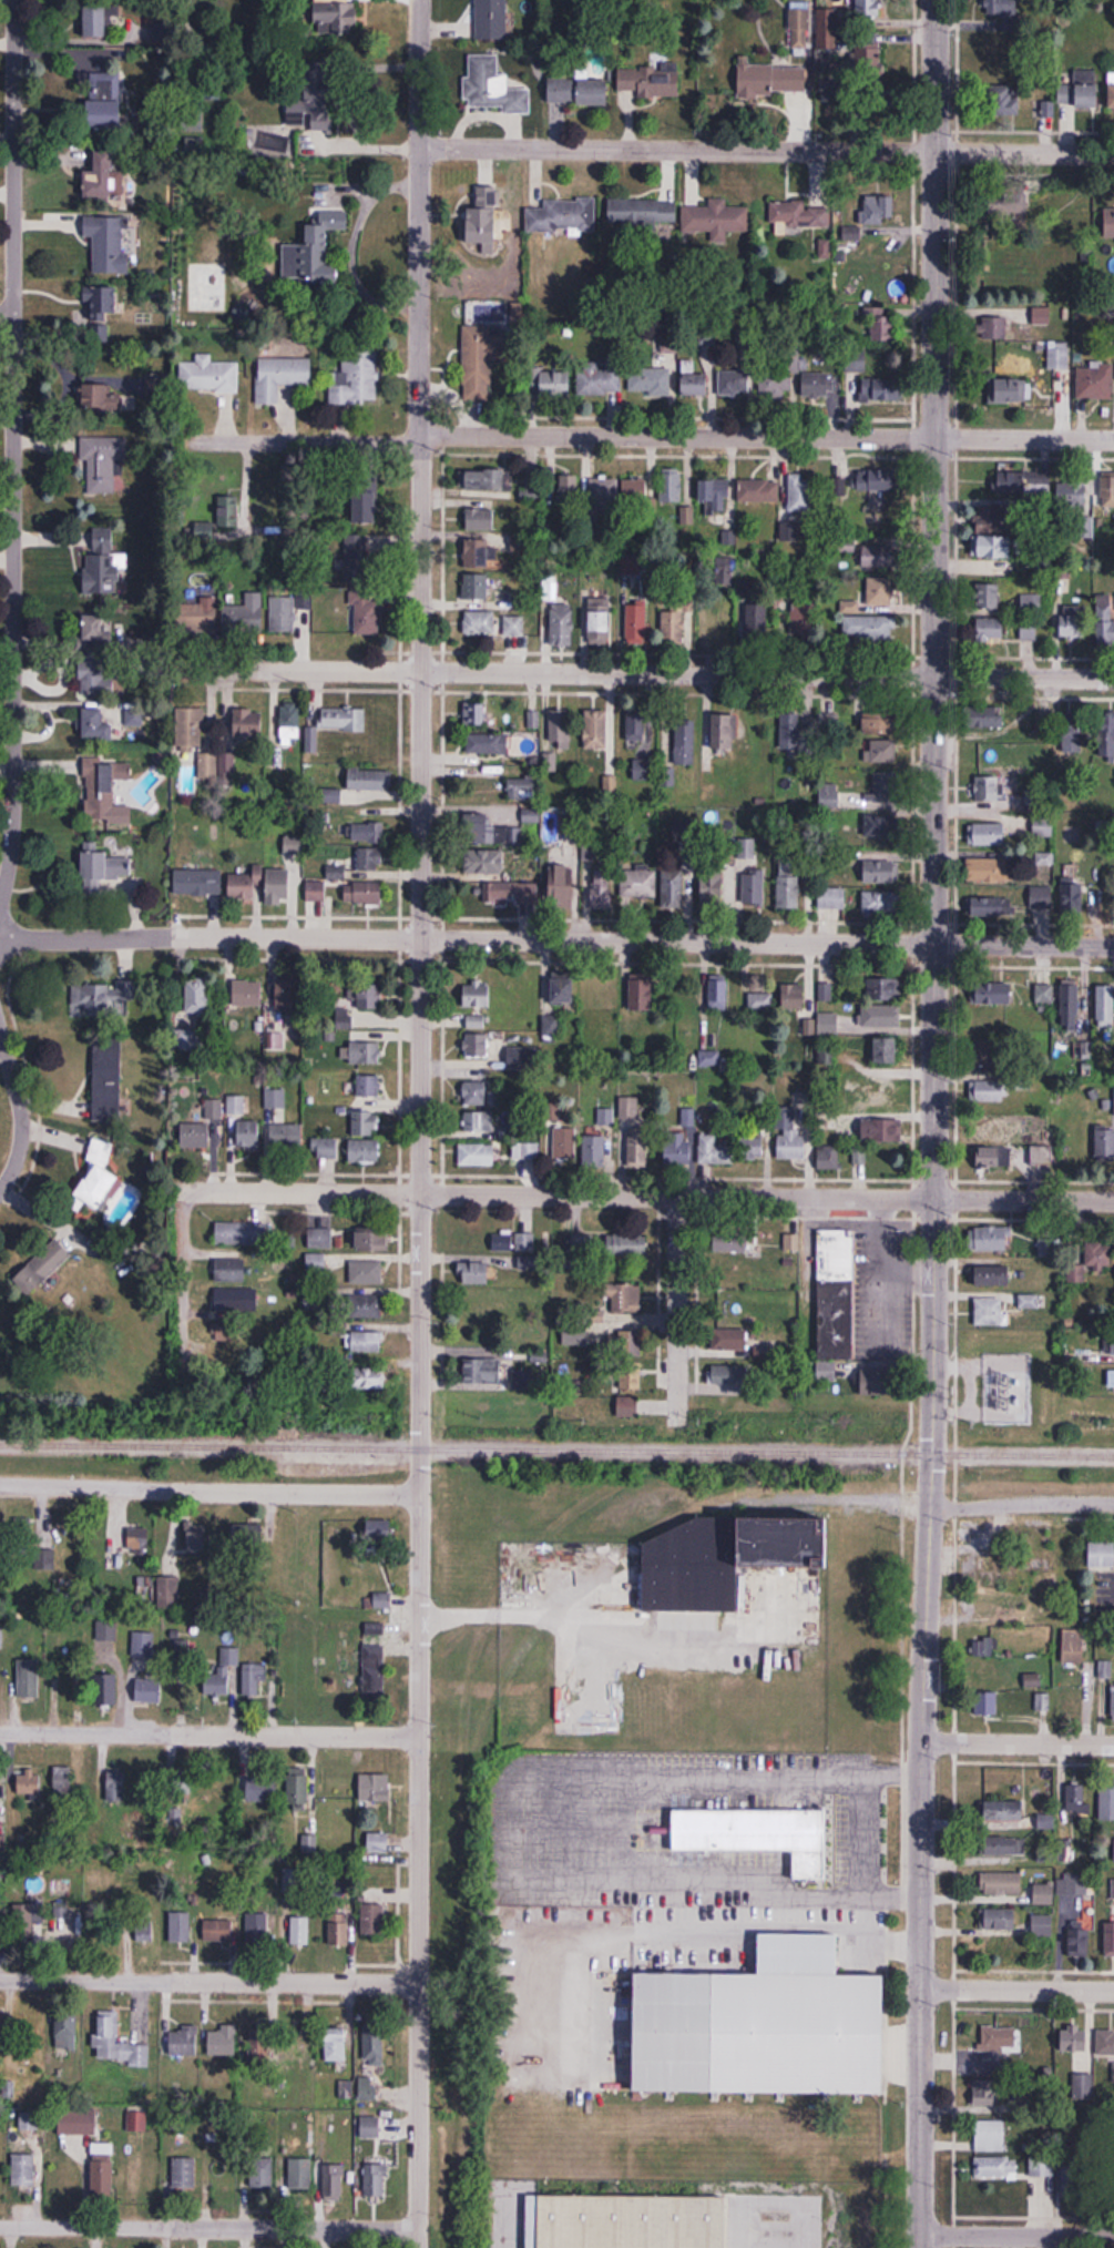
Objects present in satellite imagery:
building: (335, 13)
building: (491, 19)
building: (95, 21)
building: (1008, 27)
building: (799, 28)
building: (835, 29)
building: (875, 52)
road: (936, 75)
building: (771, 79)
building: (648, 82)
building: (492, 87)
building: (1111, 89)
building: (213, 91)
building: (578, 91)
building: (1081, 91)
building: (104, 98)
building: (1005, 102)
building: (191, 121)
building: (194, 143)
road: (766, 150)
building: (100, 179)
building: (212, 211)
building: (642, 211)
building: (876, 212)
building: (488, 216)
building: (562, 216)
building: (804, 217)
building: (712, 218)
building: (1113, 218)
building: (110, 244)
building: (320, 248)
building: (827, 251)
road: (7, 312)
building: (101, 312)
building: (881, 326)
building: (994, 328)
building: (479, 354)
building: (1059, 355)
building: (208, 375)
building: (280, 377)
building: (599, 380)
building: (354, 382)
building: (648, 382)
building: (693, 382)
building: (734, 383)
building: (775, 384)
building: (1094, 384)
building: (554, 385)
building: (817, 385)
building: (879, 389)
building: (1009, 391)
building: (95, 398)
road: (651, 439)
road: (13, 458)
building: (102, 464)
building: (484, 481)
building: (1024, 484)
building: (671, 486)
building: (569, 488)
building: (602, 491)
building: (635, 491)
building: (758, 491)
building: (862, 491)
building: (801, 494)
building: (1074, 496)
building: (719, 497)
building: (365, 502)
building: (228, 509)
building: (481, 520)
road: (934, 547)
building: (995, 548)
building: (479, 553)
building: (880, 557)
building: (356, 559)
building: (104, 570)
building: (474, 587)
building: (550, 590)
building: (872, 597)
building: (989, 597)
building: (1031, 606)
building: (283, 614)
building: (797, 614)
building: (367, 616)
building: (243, 617)
building: (196, 618)
building: (753, 620)
building: (1105, 620)
building: (1073, 622)
building: (479, 623)
building: (600, 623)
building: (636, 623)
building: (561, 625)
building: (513, 627)
building: (674, 627)
building: (868, 628)
building: (990, 628)
building: (96, 629)
building: (1029, 630)
road: (638, 673)
building: (96, 677)
building: (474, 714)
building: (983, 718)
building: (343, 720)
building: (105, 723)
building: (248, 723)
building: (290, 723)
building: (190, 729)
building: (560, 729)
building: (595, 731)
building: (725, 732)
building: (796, 732)
building: (638, 733)
building: (1072, 736)
building: (1107, 736)
building: (685, 742)
building: (487, 744)
building: (880, 750)
building: (208, 770)
building: (644, 770)
building: (369, 780)
building: (103, 786)
building: (885, 786)
building: (989, 786)
building: (523, 789)
building: (836, 797)
building: (530, 815)
building: (880, 824)
building: (1043, 826)
building: (365, 833)
building: (988, 833)
building: (1071, 834)
building: (1045, 858)
building: (483, 861)
building: (354, 863)
building: (104, 866)
building: (880, 868)
building: (990, 868)
building: (198, 881)
building: (278, 884)
building: (638, 884)
building: (245, 885)
building: (712, 885)
building: (673, 887)
building: (315, 889)
building: (532, 889)
building: (601, 889)
building: (788, 891)
building: (362, 892)
building: (1041, 897)
building: (1073, 897)
building: (832, 898)
building: (881, 903)
building: (994, 904)
road: (467, 940)
road: (1024, 943)
building: (887, 988)
building: (562, 990)
building: (247, 993)
building: (642, 994)
building: (993, 994)
building: (709, 995)
building: (1044, 995)
building: (369, 996)
building: (476, 996)
building: (795, 996)
building: (196, 997)
building: (596, 997)
building: (103, 998)
building: (287, 998)
building: (760, 1001)
building: (1070, 1005)
building: (1105, 1006)
building: (881, 1016)
building: (476, 1045)
building: (886, 1050)
building: (365, 1052)
building: (990, 1056)
building: (708, 1058)
building: (108, 1084)
building: (368, 1086)
building: (989, 1091)
building: (474, 1094)
building: (886, 1097)
building: (275, 1105)
building: (628, 1108)
building: (213, 1109)
road: (19, 1111)
building: (478, 1122)
building: (365, 1123)
road: (421, 1123)
building: (987, 1127)
building: (881, 1130)
building: (508, 1132)
building: (243, 1133)
building: (195, 1135)
building: (284, 1136)
building: (789, 1138)
building: (679, 1141)
building: (564, 1143)
building: (1104, 1146)
building: (752, 1148)
building: (327, 1149)
building: (529, 1150)
building: (593, 1150)
building: (635, 1150)
building: (364, 1151)
building: (714, 1151)
building: (477, 1154)
building: (859, 1156)
building: (829, 1158)
building: (995, 1158)
building: (98, 1176)
road: (650, 1197)
road: (934, 1212)
building: (241, 1233)
building: (319, 1238)
building: (371, 1238)
building: (991, 1239)
building: (729, 1240)
building: (525, 1241)
building: (501, 1242)
building: (627, 1243)
building: (581, 1247)
building: (1087, 1261)
building: (315, 1263)
building: (41, 1267)
building: (229, 1270)
building: (366, 1273)
building: (474, 1273)
building: (990, 1276)
road: (183, 1294)
building: (623, 1295)
building: (236, 1300)
building: (835, 1300)
building: (1029, 1301)
building: (732, 1302)
building: (364, 1308)
road: (677, 1308)
building: (989, 1312)
building: (226, 1332)
building: (574, 1333)
building: (728, 1339)
building: (366, 1342)
building: (1107, 1343)
building: (631, 1346)
building: (483, 1371)
building: (729, 1374)
building: (366, 1377)
building: (631, 1377)
building: (1112, 1379)
building: (627, 1405)
railway: (467, 1448)
railway: (1023, 1455)
road: (208, 1491)
road: (1019, 1507)
building: (379, 1529)
building: (0, 1538)
building: (137, 1539)
building: (196, 1540)
building: (785, 1543)
building: (172, 1552)
building: (1102, 1555)
building: (43, 1559)
building: (678, 1579)
building: (108, 1634)
building: (1, 1639)
building: (142, 1645)
building: (1073, 1647)
building: (983, 1648)
building: (182, 1655)
building: (1104, 1670)
building: (374, 1672)
building: (222, 1674)
building: (989, 1674)
building: (1, 1675)
railway: (507, 1675)
building: (253, 1679)
building: (1035, 1680)
building: (28, 1684)
railway: (468, 1688)
building: (108, 1690)
building: (147, 1690)
building: (1113, 1701)
building: (987, 1705)
road: (208, 1735)
road: (1016, 1749)
building: (62, 1778)
road: (858, 1778)
building: (29, 1784)
building: (375, 1788)
building: (117, 1789)
building: (297, 1790)
building: (1076, 1799)
building: (1106, 1803)
building: (1004, 1811)
parking lot: (656, 1818)
building: (740, 1830)
building: (2, 1842)
building: (377, 1842)
building: (1005, 1847)
road: (917, 1864)
building: (298, 1872)
building: (1001, 1883)
building: (1076, 1884)
road: (885, 1889)
building: (1113, 1889)
building: (1044, 1894)
building: (31, 1919)
building: (375, 1920)
building: (1000, 1920)
building: (178, 1925)
building: (1042, 1925)
building: (256, 1927)
building: (143, 1929)
building: (339, 1929)
building: (217, 1930)
building: (299, 1930)
road: (885, 1935)
building: (1079, 1940)
building: (1108, 1940)
parking lot: (615, 1967)
road: (208, 1981)
road: (1014, 1995)
building: (750, 2023)
building: (1, 2030)
building: (64, 2031)
building: (993, 2040)
building: (183, 2041)
building: (1074, 2041)
building: (117, 2042)
building: (335, 2043)
building: (1105, 2043)
building: (372, 2044)
building: (224, 2045)
building: (273, 2051)
building: (1113, 2074)
building: (1082, 2087)
building: (983, 2093)
building: (29, 2120)
building: (76, 2123)
building: (370, 2127)
building: (990, 2136)
building: (995, 2168)
building: (23, 2169)
building: (102, 2171)
building: (184, 2174)
building: (300, 2174)
building: (260, 2175)
building: (374, 2180)
building: (1072, 2180)
building: (333, 2181)
road: (771, 2200)
building: (609, 2215)
parking lot: (757, 2216)
road: (208, 2228)
road: (1014, 2244)

